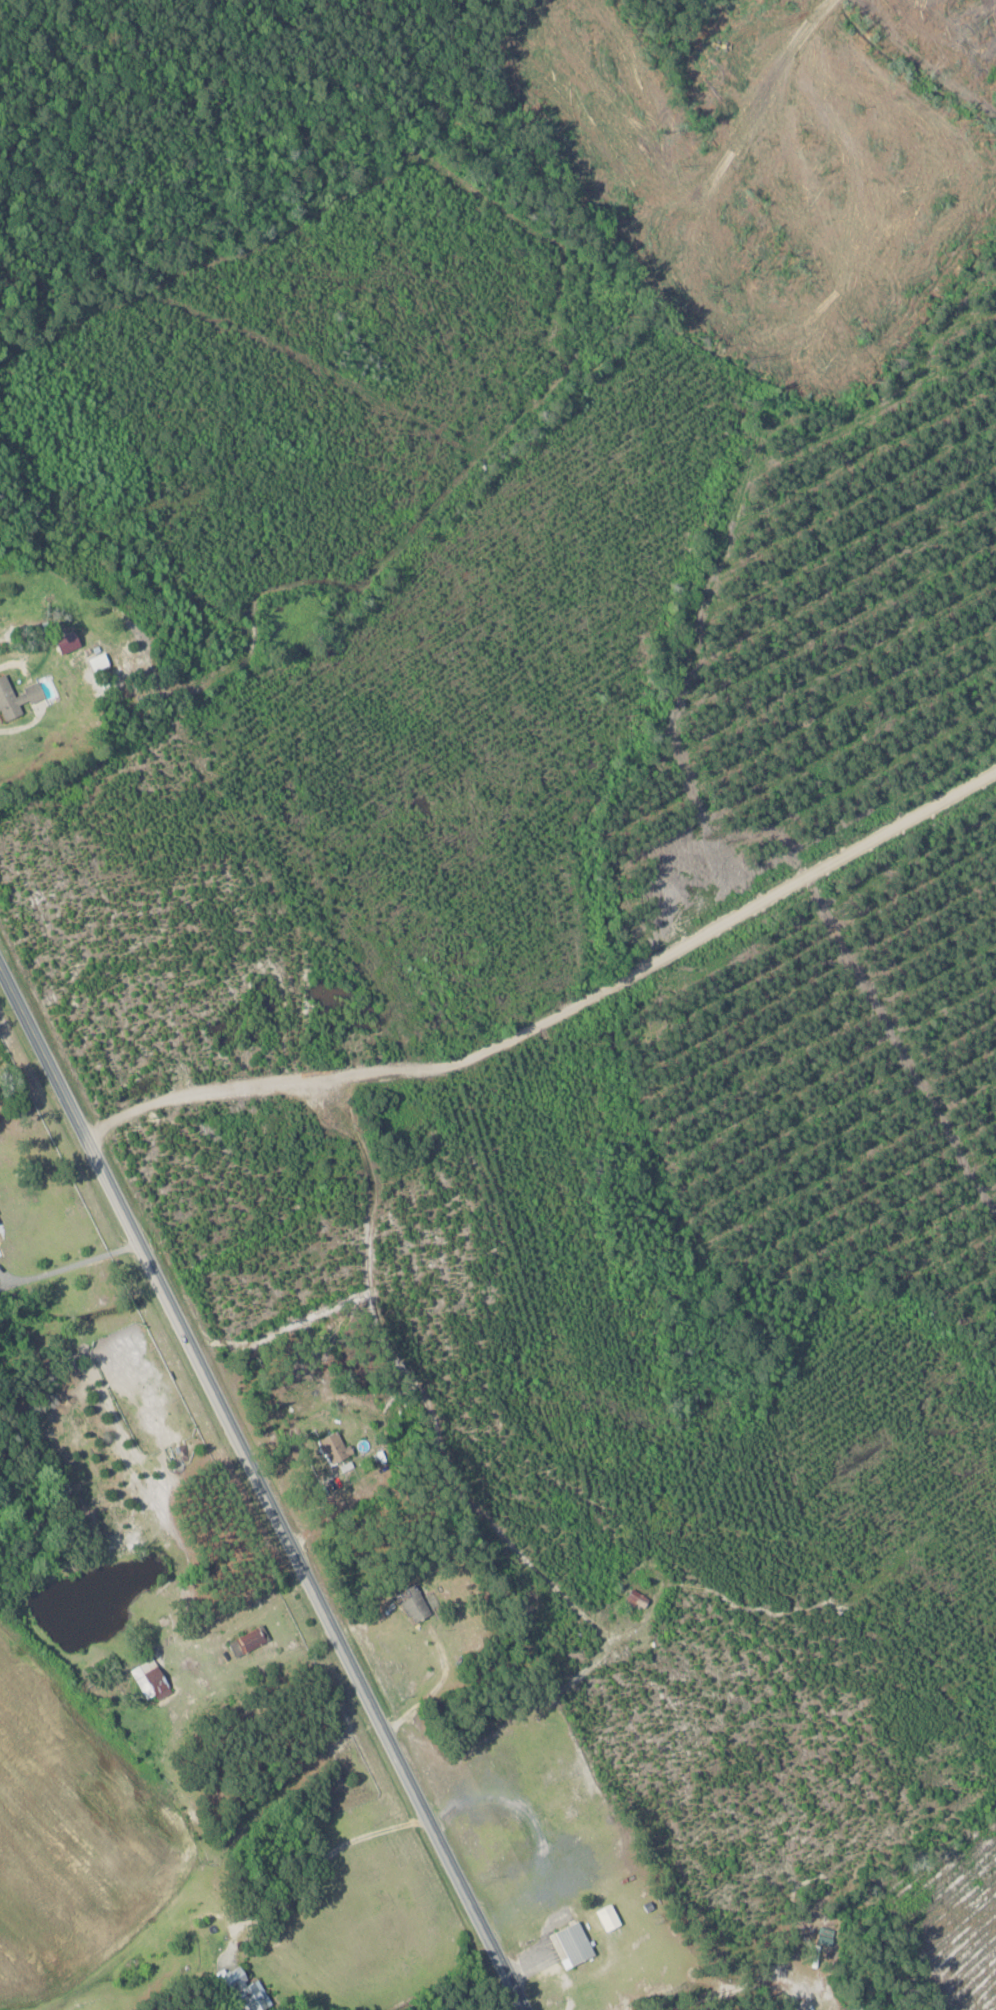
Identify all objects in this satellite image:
building: (68, 641)
building: (34, 691)
building: (8, 699)
building: (333, 1448)
building: (176, 1457)
road: (263, 1486)
building: (413, 1603)
building: (247, 1641)
building: (150, 1678)
building: (574, 1943)
building: (246, 1990)

